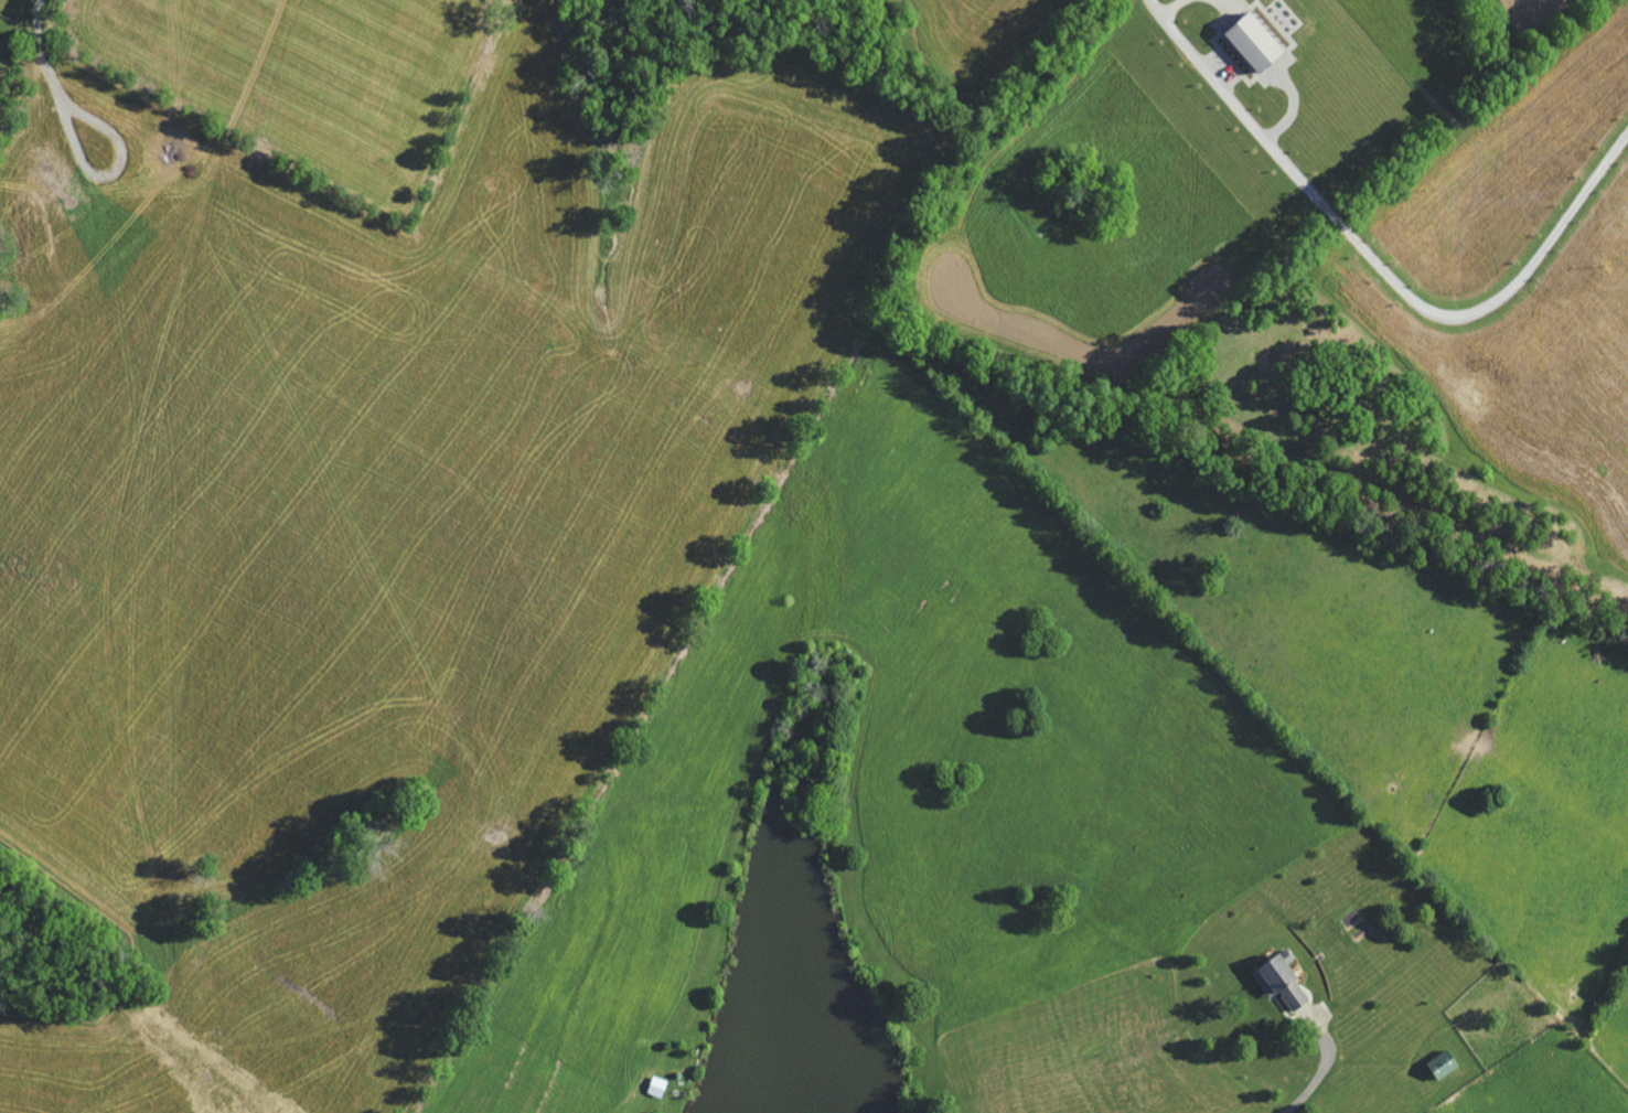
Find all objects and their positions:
building: (1261, 45)
crop: (984, 848)
building: (1286, 983)
building: (1448, 1064)
road: (1324, 1069)
building: (661, 1088)

